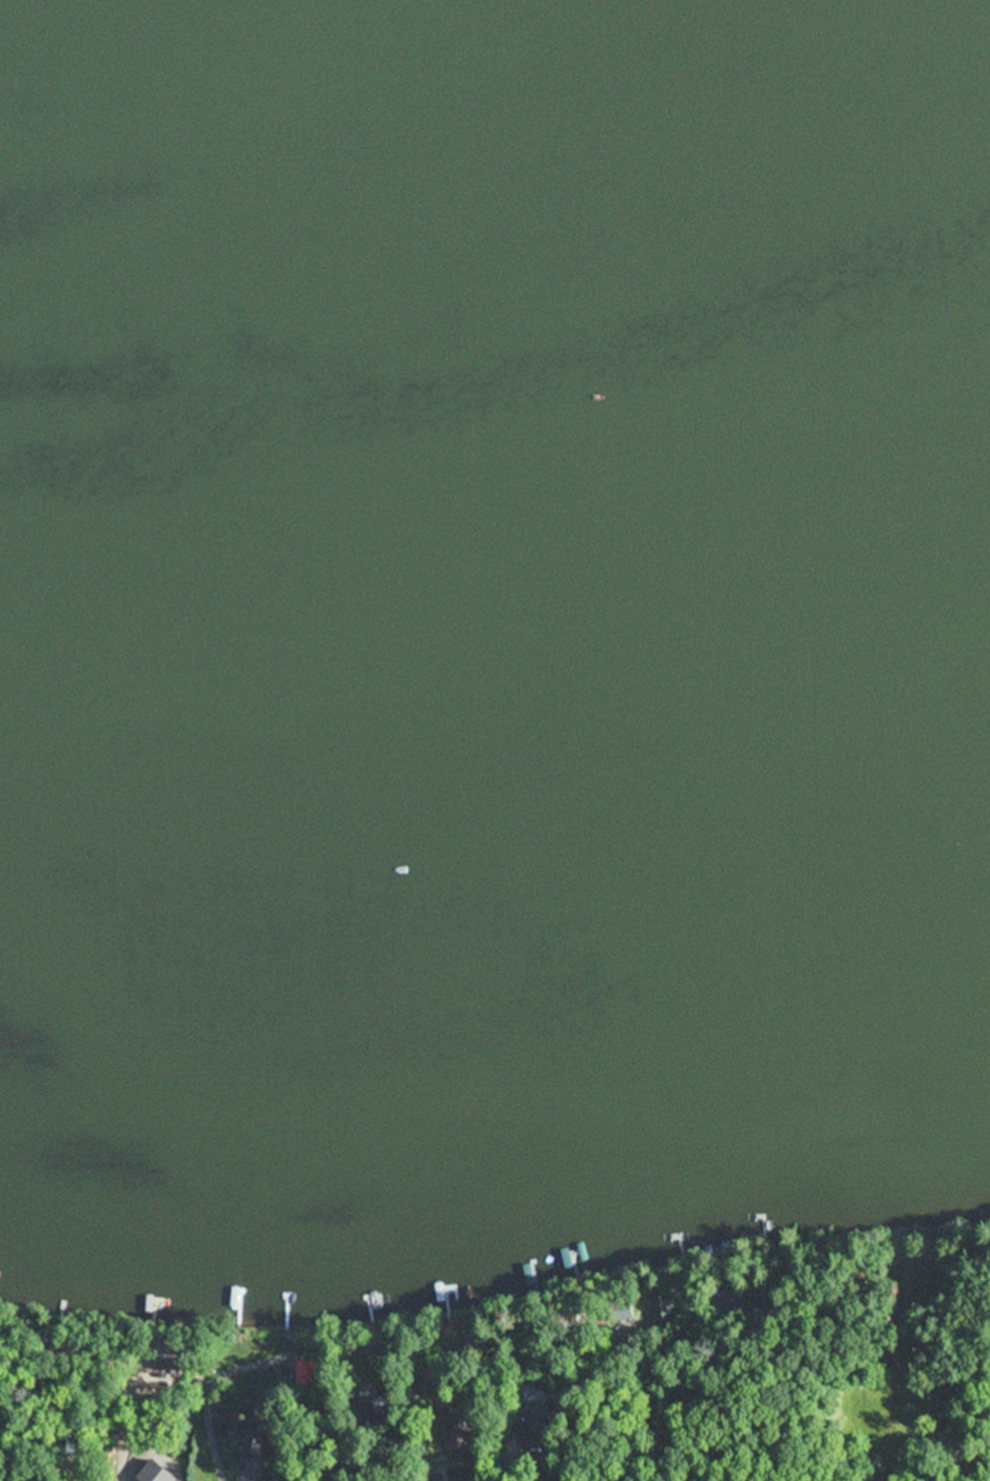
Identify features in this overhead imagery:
road: (663, 1406)
road: (926, 1452)

